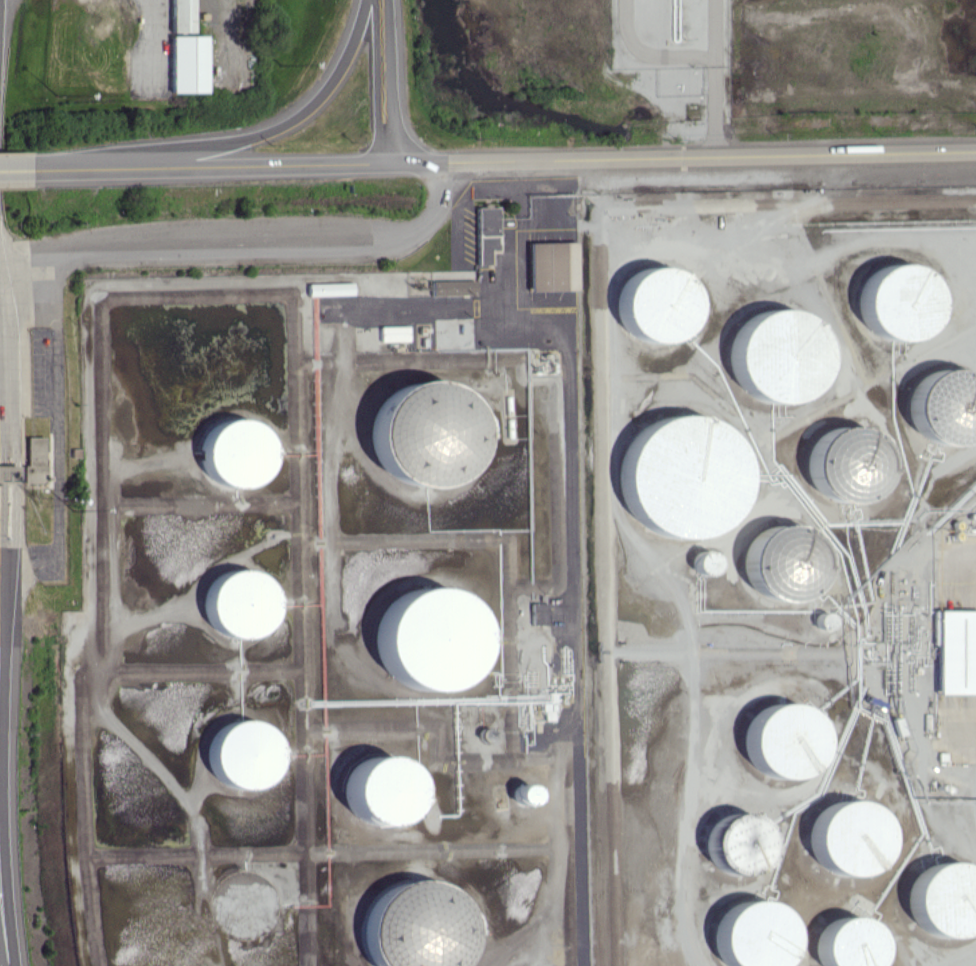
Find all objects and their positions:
building: (182, 15)
building: (189, 63)
road: (375, 81)
road: (390, 81)
road: (272, 128)
road: (684, 158)
road: (233, 164)
road: (37, 166)
building: (485, 233)
road: (250, 246)
building: (551, 266)
building: (452, 287)
building: (332, 288)
building: (896, 302)
building: (654, 305)
building: (394, 333)
building: (776, 356)
road: (56, 430)
building: (422, 432)
building: (236, 452)
building: (35, 459)
toll booth: (4, 473)
building: (7, 473)
building: (681, 476)
building: (704, 562)
road: (4, 581)
building: (239, 604)
building: (539, 613)
building: (428, 638)
building: (955, 651)
building: (782, 740)
building: (243, 753)
building: (379, 790)
building: (523, 794)
building: (846, 837)
building: (736, 844)
building: (943, 900)
building: (410, 914)
building: (751, 934)
building: (846, 943)

